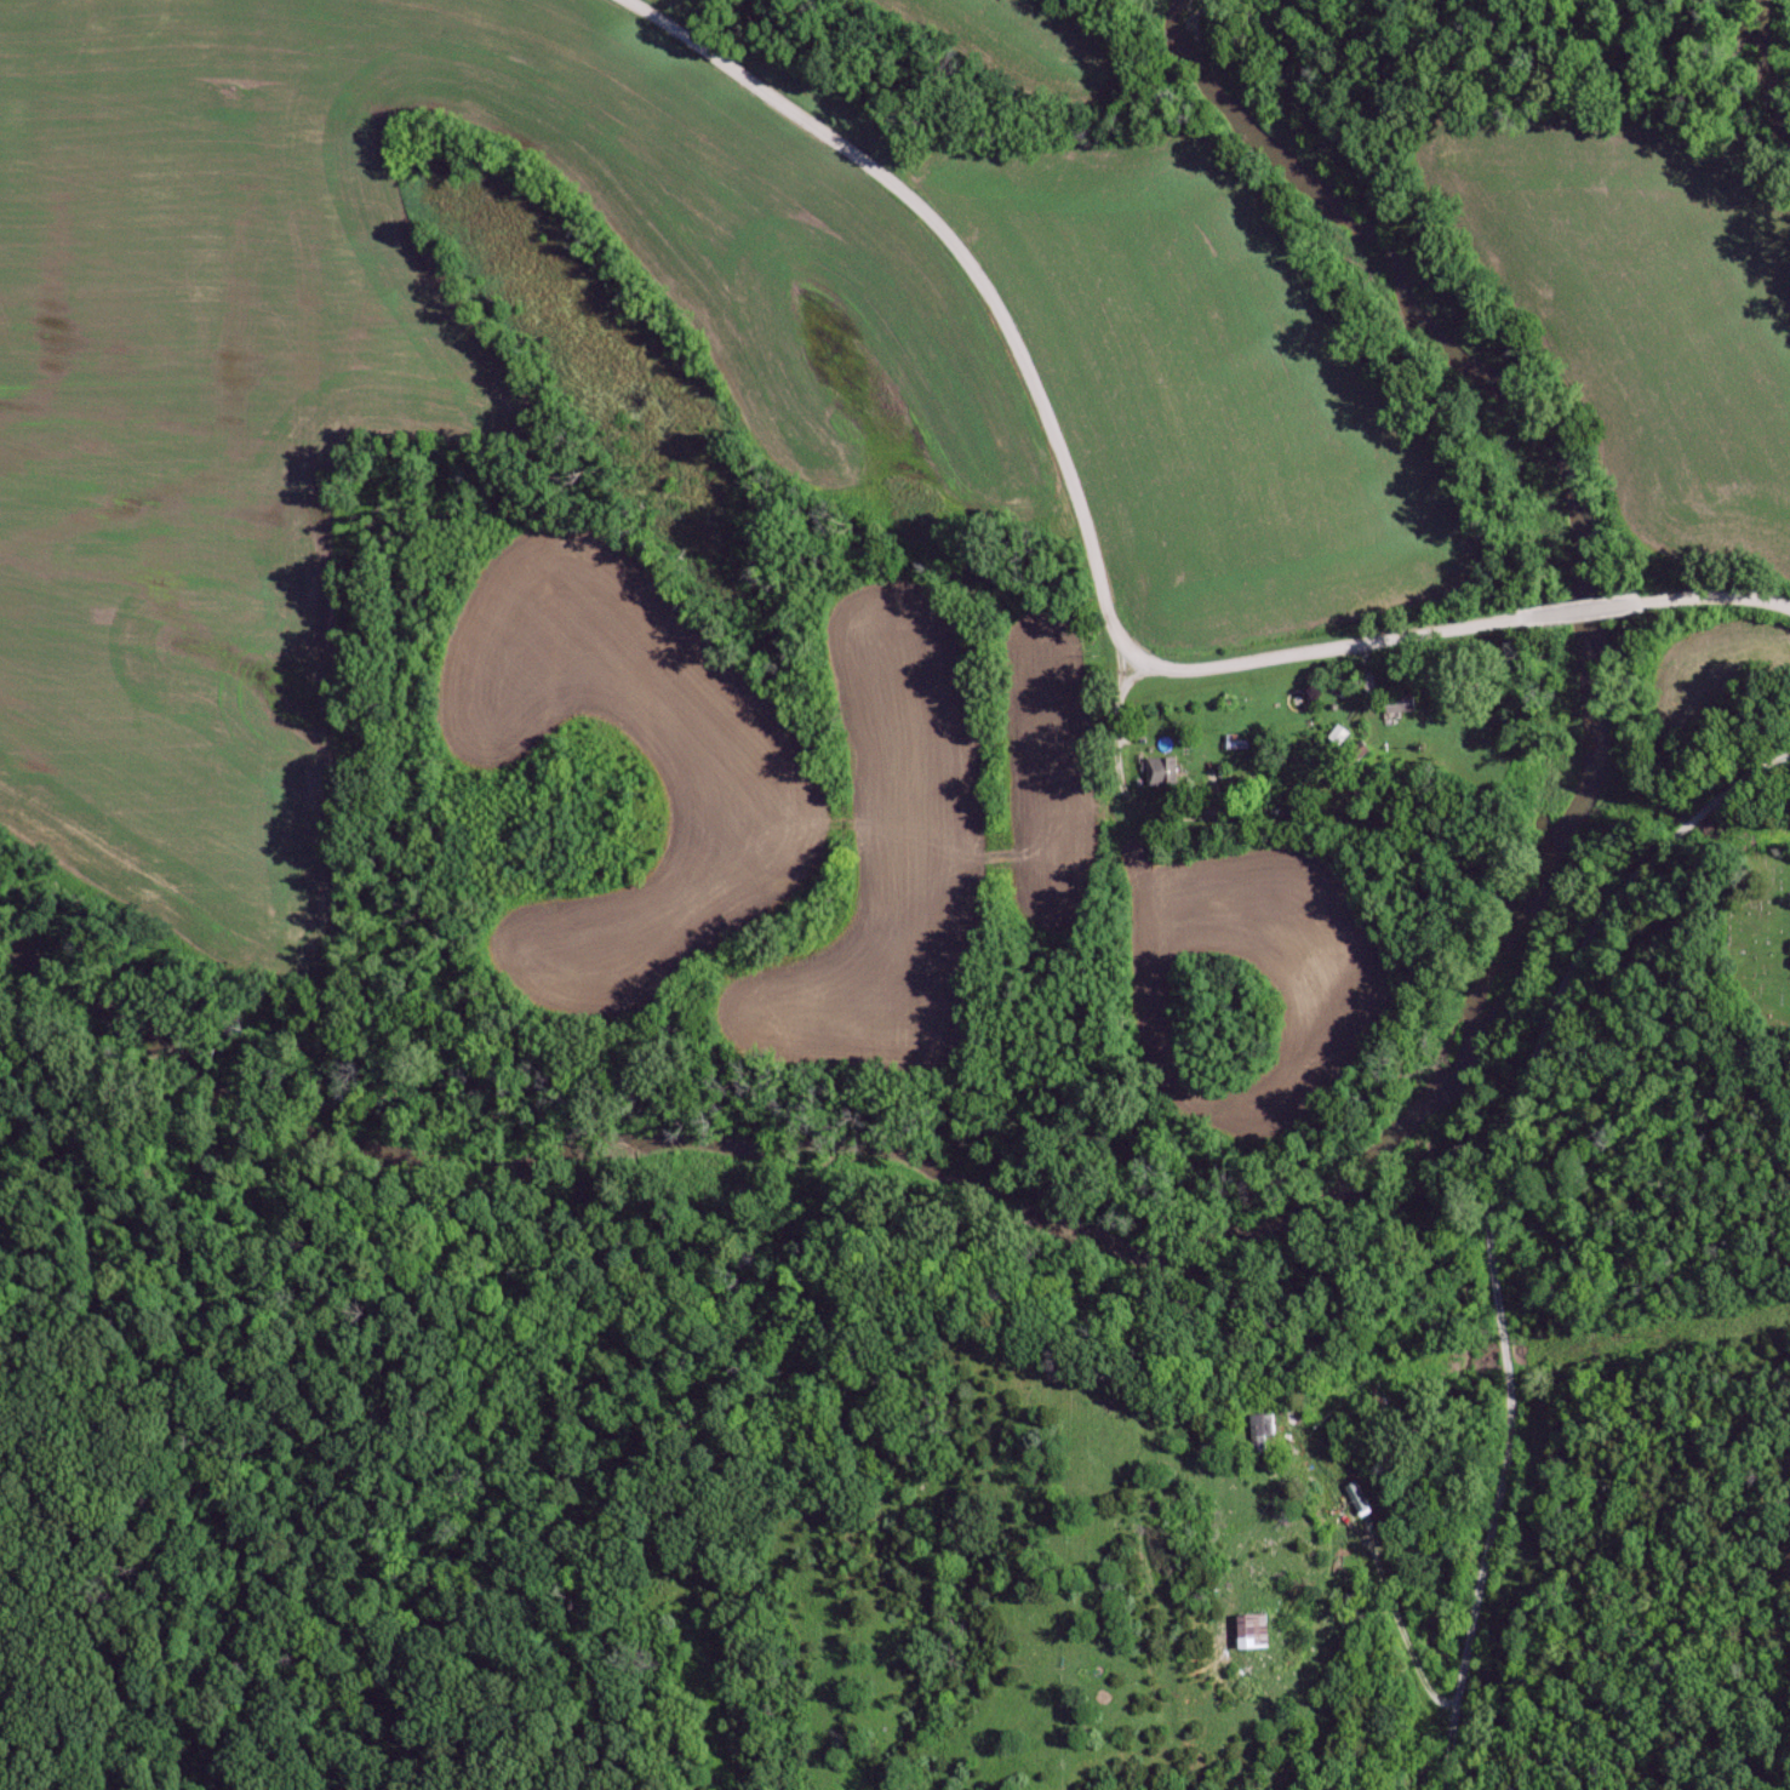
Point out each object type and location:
road: (1051, 435)
road: (1716, 597)
road: (1579, 611)
building: (1401, 705)
building: (1234, 743)
road: (1754, 770)
building: (1165, 771)
park: (1756, 939)
river: (1337, 1220)
road: (1488, 1258)
building: (1262, 1431)
building: (1253, 1630)

